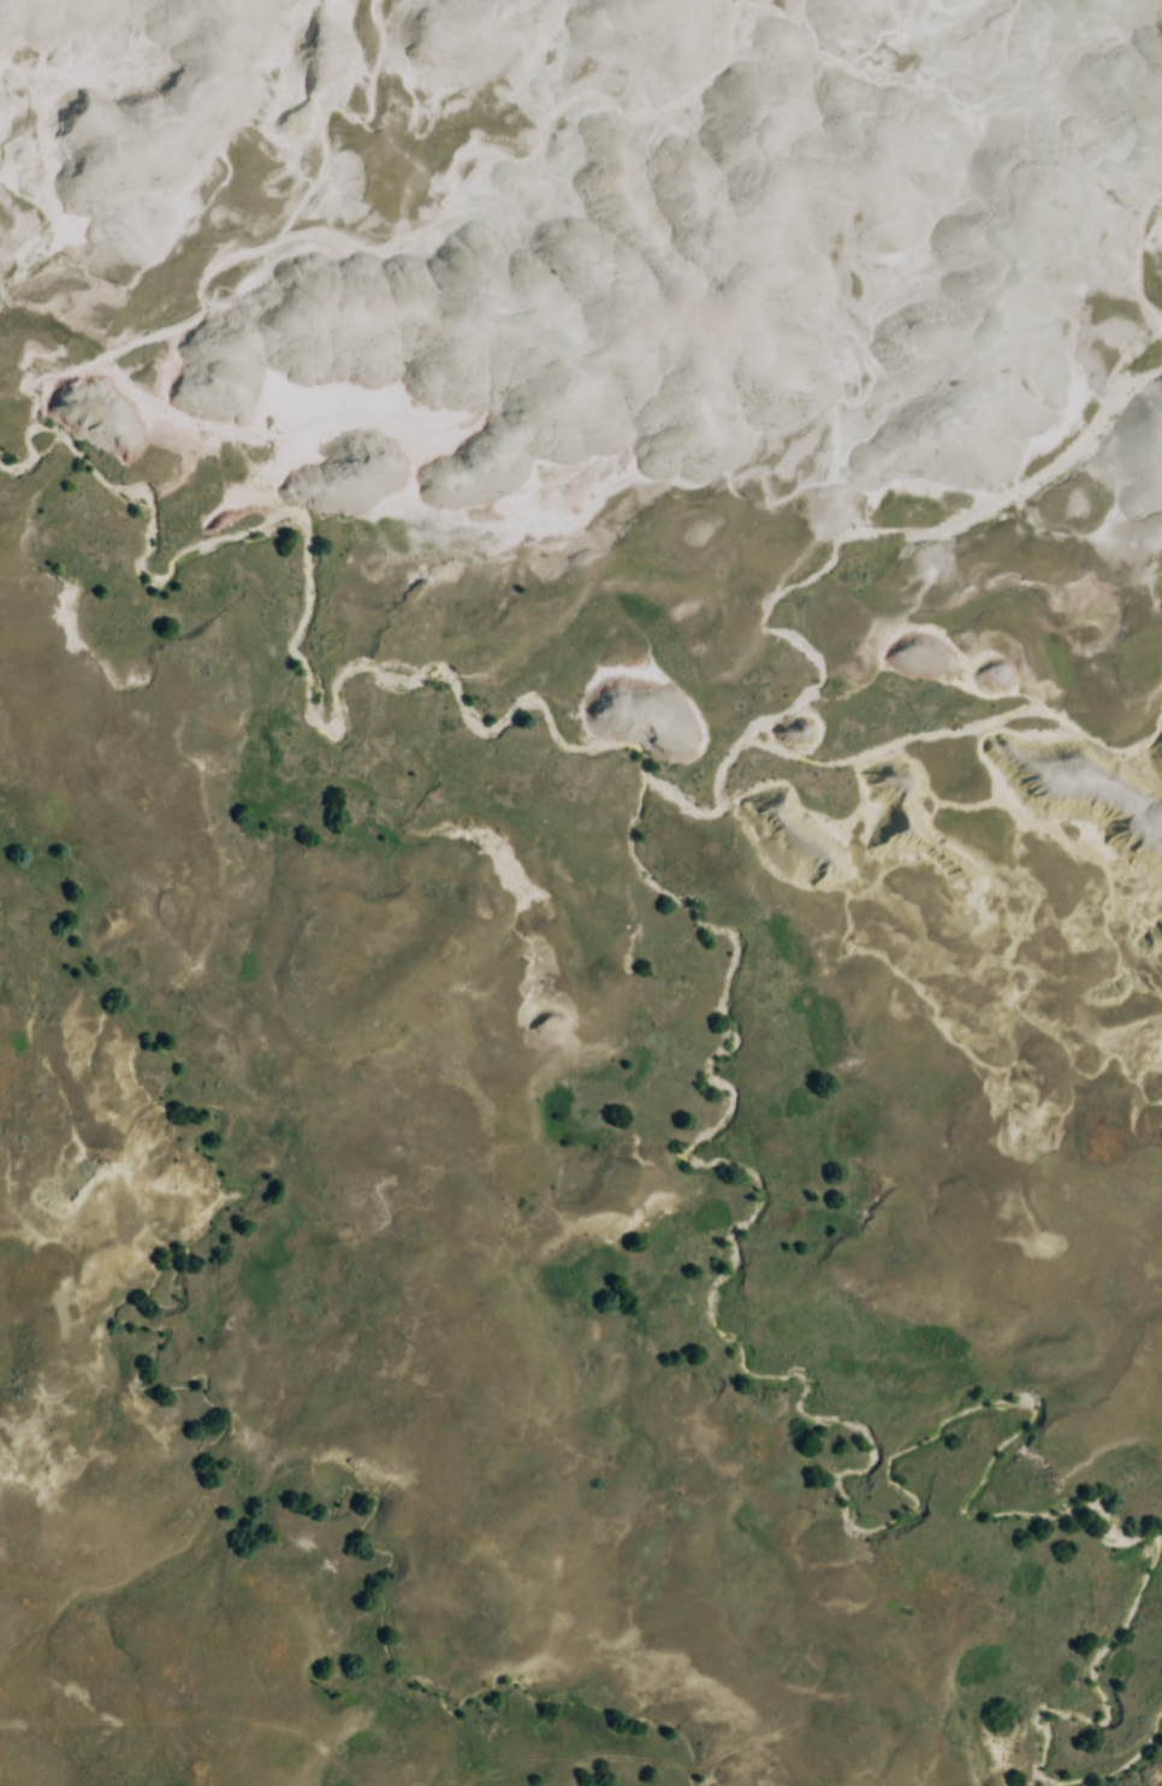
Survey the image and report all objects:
road: (209, 1723)

